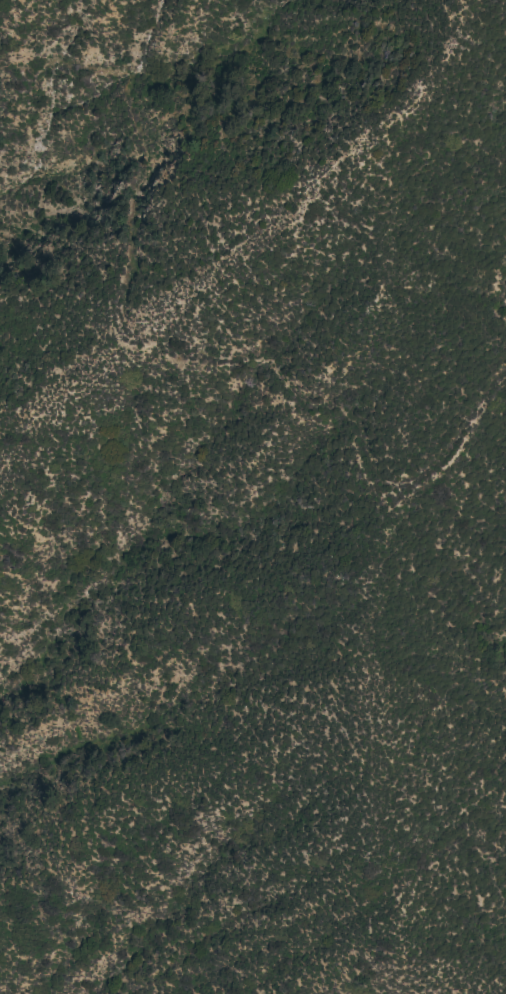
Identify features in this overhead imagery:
road: (252, 420)

